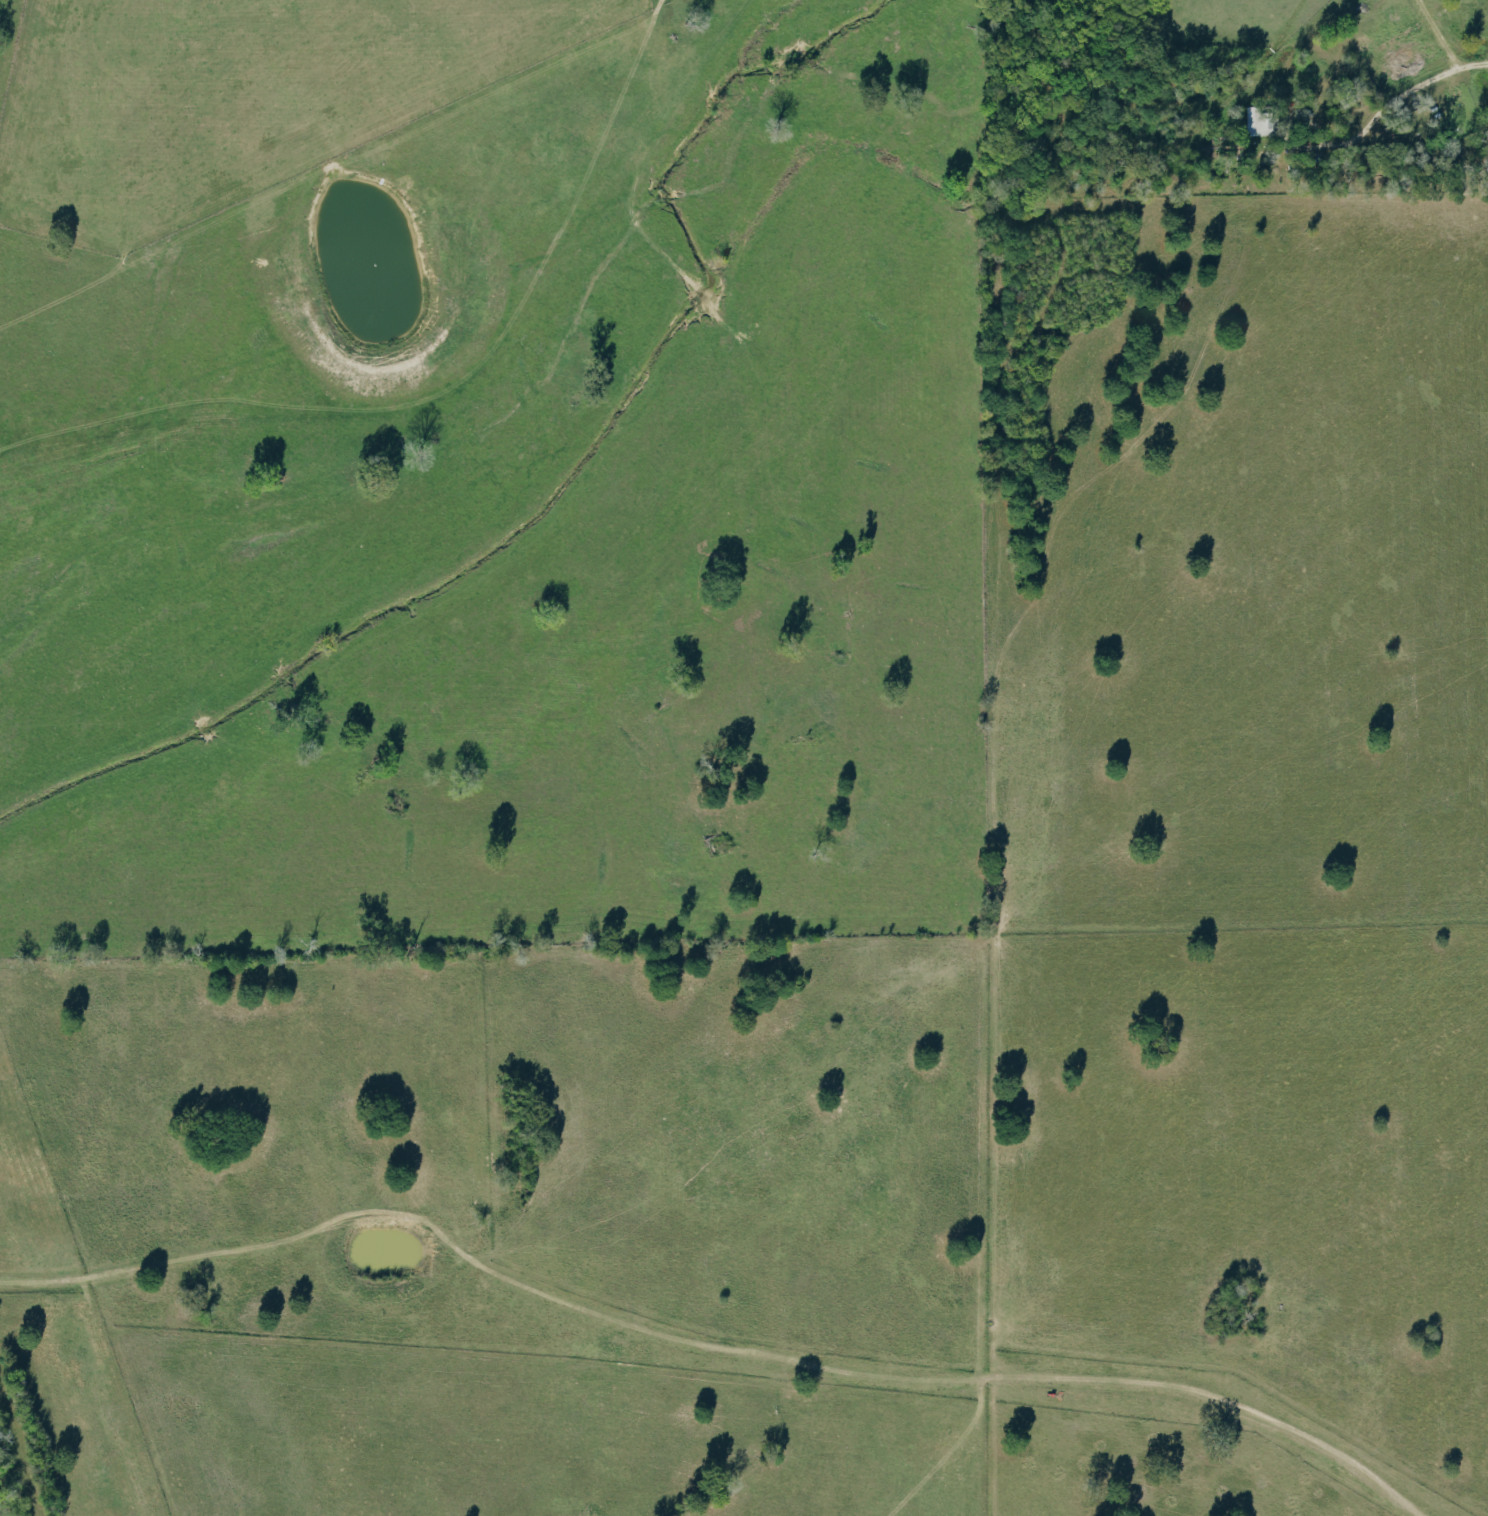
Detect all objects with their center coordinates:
road: (1414, 87)
building: (1259, 122)

